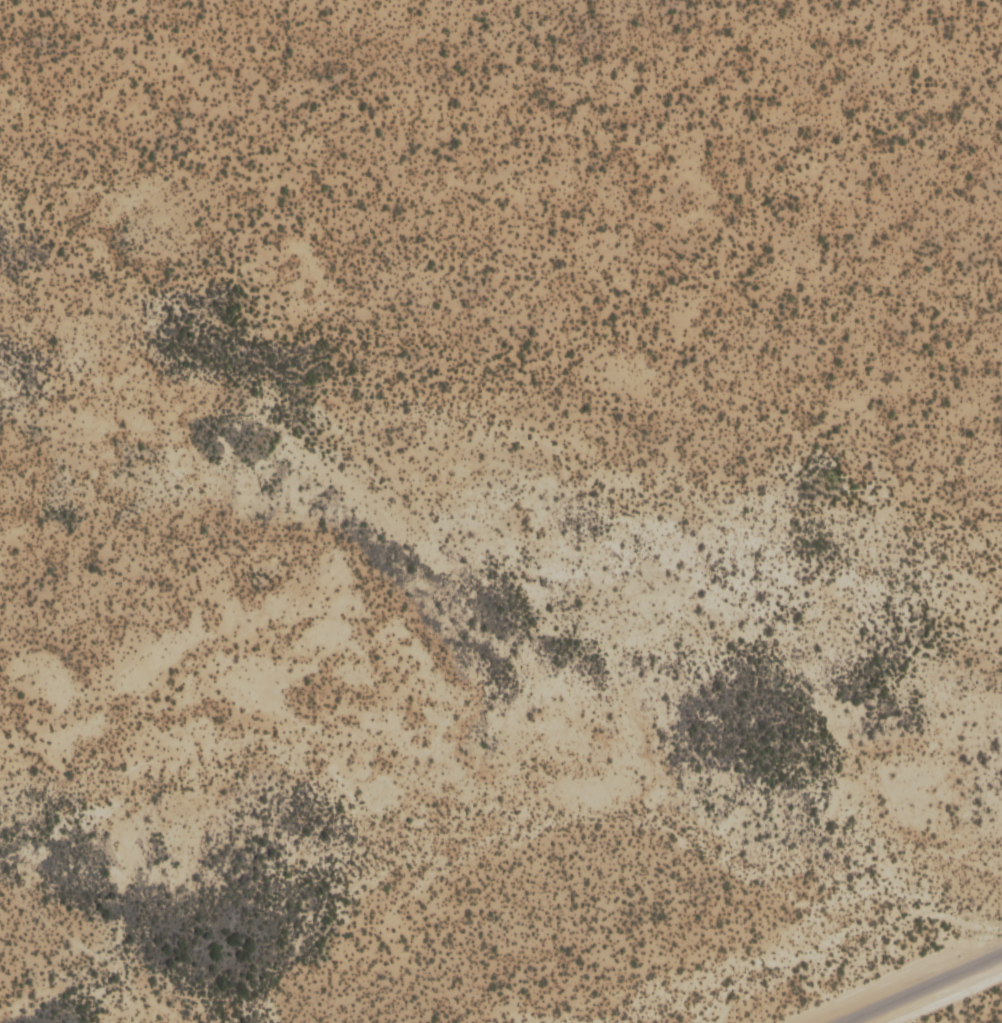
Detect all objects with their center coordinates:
building: (993, 99)
building: (650, 114)
building: (984, 136)
building: (605, 311)
building: (936, 324)
building: (683, 339)

